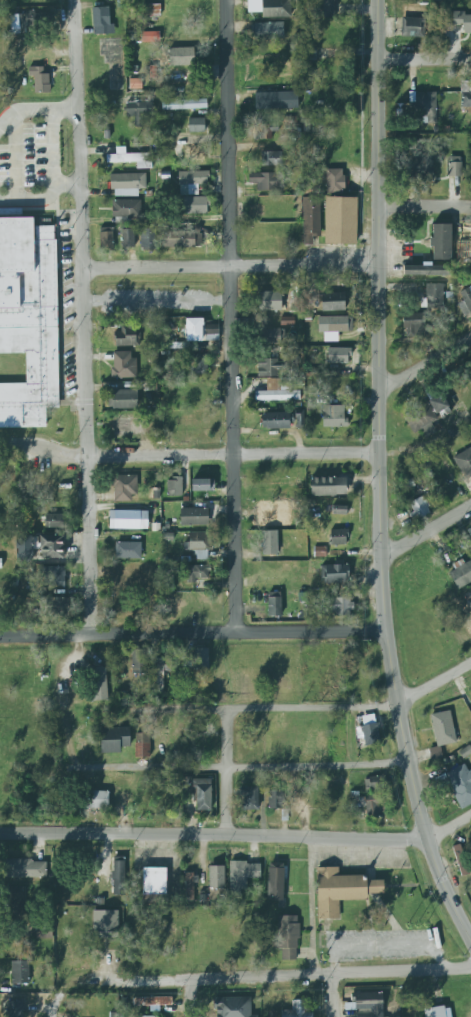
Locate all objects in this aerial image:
building: (276, 8)
building: (325, 9)
building: (150, 10)
building: (101, 21)
building: (413, 21)
building: (462, 21)
building: (267, 31)
building: (150, 37)
building: (181, 56)
road: (423, 58)
building: (40, 78)
building: (275, 100)
building: (466, 100)
building: (184, 105)
road: (36, 111)
building: (138, 112)
building: (196, 125)
building: (269, 130)
building: (130, 158)
building: (270, 159)
building: (454, 166)
building: (193, 178)
building: (266, 181)
building: (334, 181)
building: (127, 184)
road: (41, 199)
building: (193, 205)
road: (424, 207)
building: (126, 208)
building: (8, 212)
building: (310, 219)
building: (340, 220)
building: (105, 238)
building: (127, 238)
building: (148, 239)
building: (181, 239)
building: (441, 242)
road: (230, 265)
building: (427, 269)
building: (434, 296)
building: (465, 300)
road: (157, 301)
building: (271, 301)
building: (332, 302)
road: (230, 317)
road: (84, 318)
building: (28, 319)
building: (334, 324)
building: (414, 325)
building: (200, 330)
building: (272, 335)
building: (124, 336)
building: (338, 355)
building: (123, 364)
building: (198, 365)
road: (425, 365)
building: (269, 368)
building: (277, 391)
building: (125, 398)
building: (426, 415)
building: (333, 416)
building: (275, 421)
building: (124, 426)
road: (44, 447)
road: (232, 455)
building: (464, 462)
road: (378, 479)
building: (202, 485)
building: (328, 486)
building: (125, 487)
building: (174, 487)
building: (418, 509)
building: (339, 510)
building: (193, 516)
building: (128, 519)
building: (55, 521)
road: (426, 532)
building: (469, 532)
building: (338, 537)
building: (269, 542)
building: (200, 544)
building: (51, 546)
building: (26, 548)
building: (128, 550)
building: (319, 552)
building: (0, 563)
building: (127, 570)
building: (197, 572)
building: (334, 574)
building: (461, 574)
building: (53, 576)
building: (274, 604)
building: (339, 606)
building: (52, 607)
road: (192, 635)
building: (200, 659)
building: (138, 661)
building: (159, 668)
road: (433, 684)
building: (98, 685)
road: (258, 709)
building: (443, 728)
building: (370, 729)
building: (114, 739)
building: (142, 745)
road: (242, 768)
road: (225, 772)
building: (375, 783)
building: (460, 785)
building: (202, 794)
building: (248, 798)
building: (97, 800)
building: (275, 800)
building: (374, 804)
road: (450, 830)
road: (213, 835)
building: (461, 859)
building: (25, 868)
building: (119, 875)
building: (241, 876)
building: (216, 877)
building: (154, 881)
building: (275, 881)
building: (189, 887)
building: (341, 890)
building: (14, 904)
road: (311, 906)
building: (105, 924)
building: (287, 938)
road: (381, 945)
building: (19, 972)
road: (282, 978)
road: (330, 997)
road: (187, 1000)
building: (152, 1001)
building: (369, 1004)
road: (50, 1006)
building: (233, 1007)
building: (17, 1009)
building: (297, 1009)
building: (437, 1012)
building: (144, 1016)

